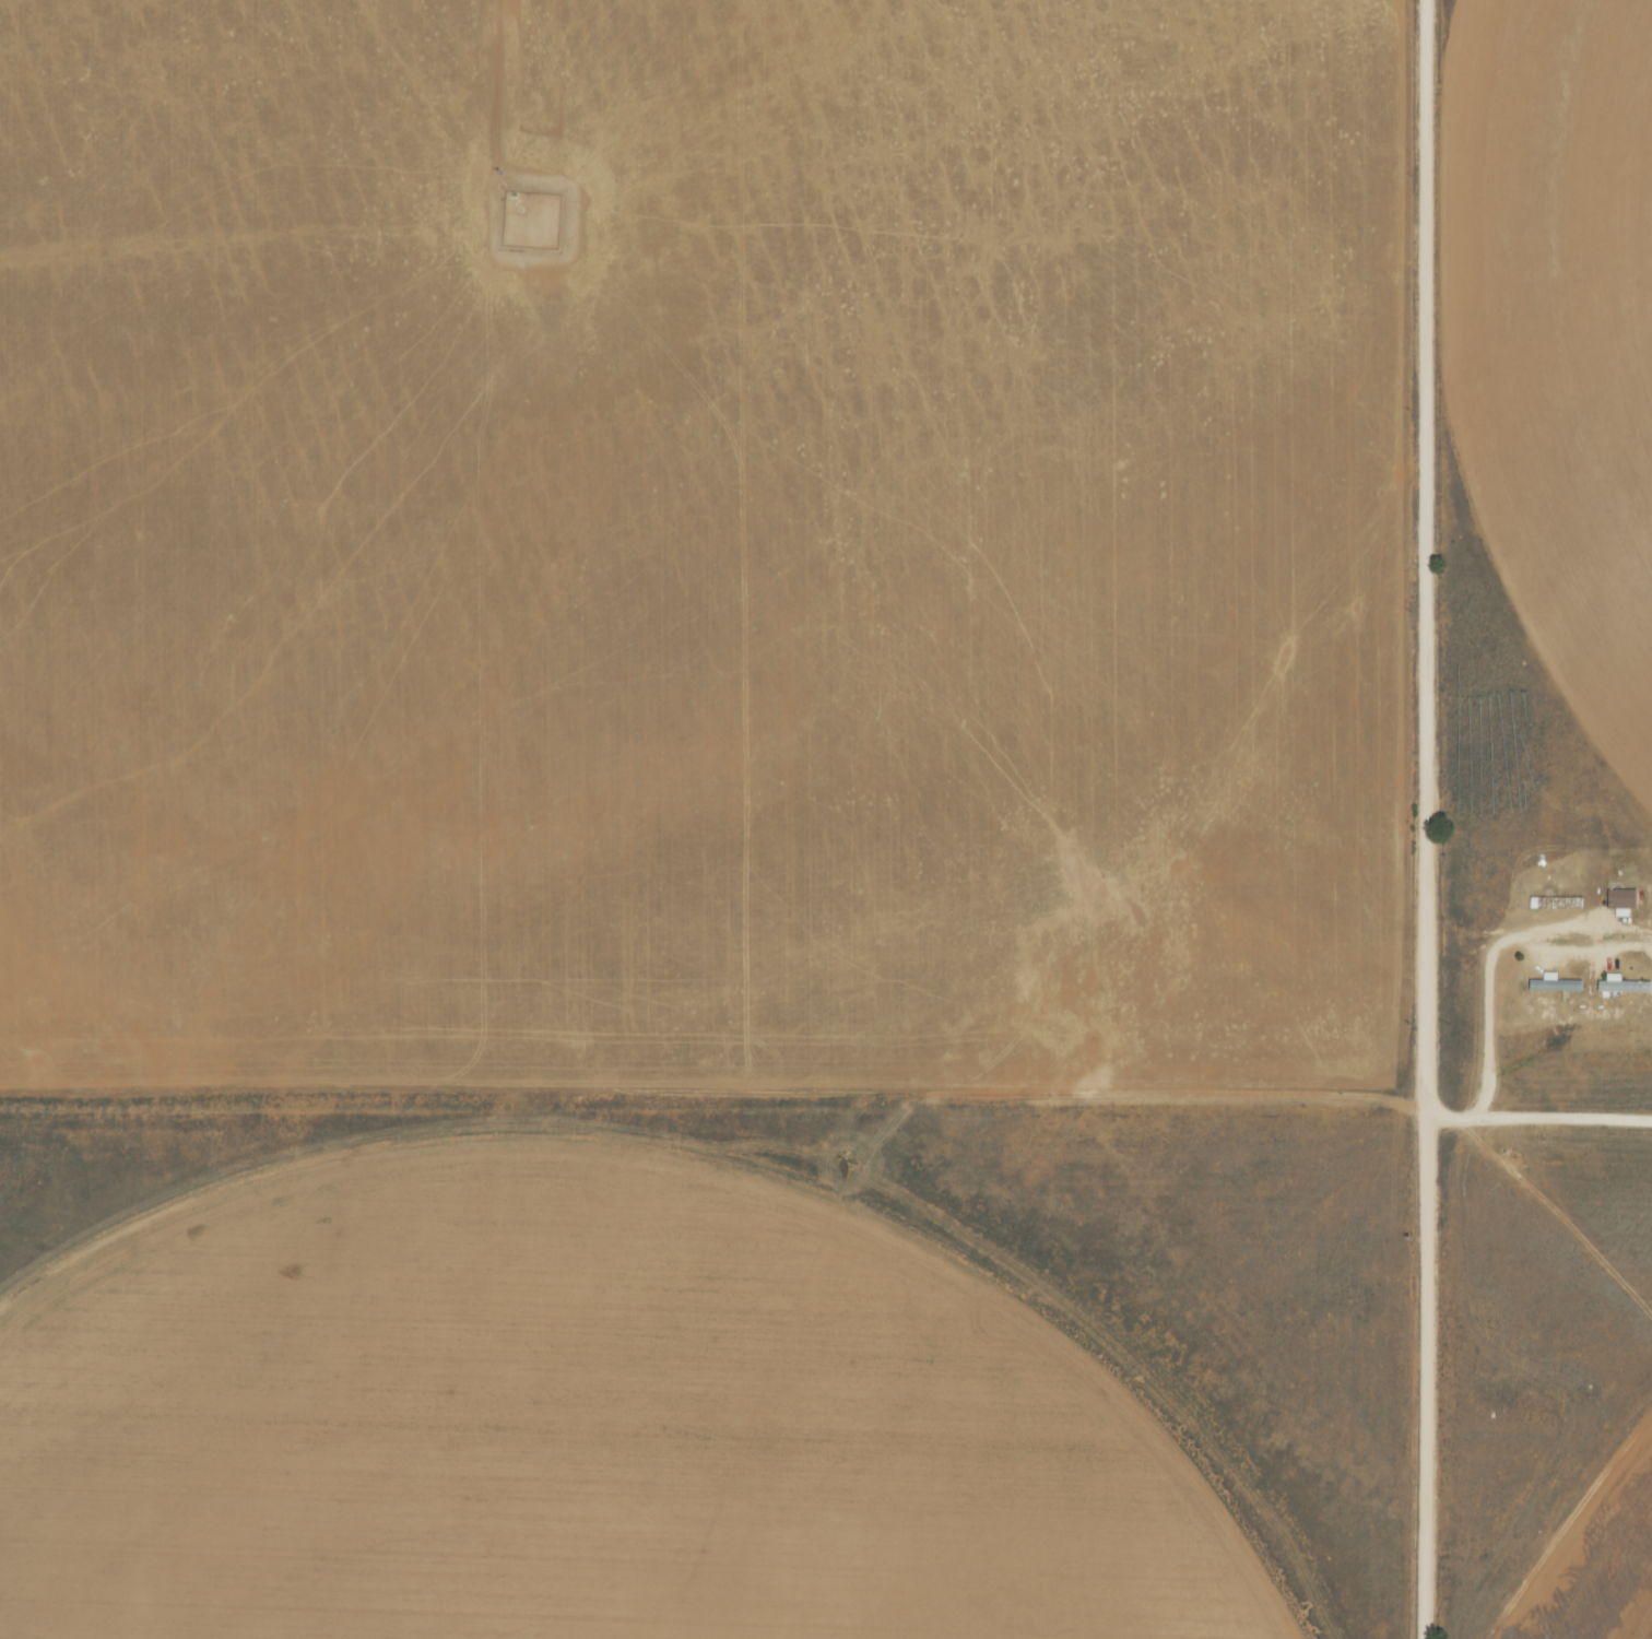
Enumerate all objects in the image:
road: (1428, 819)
road: (1539, 944)
road: (1541, 1117)

